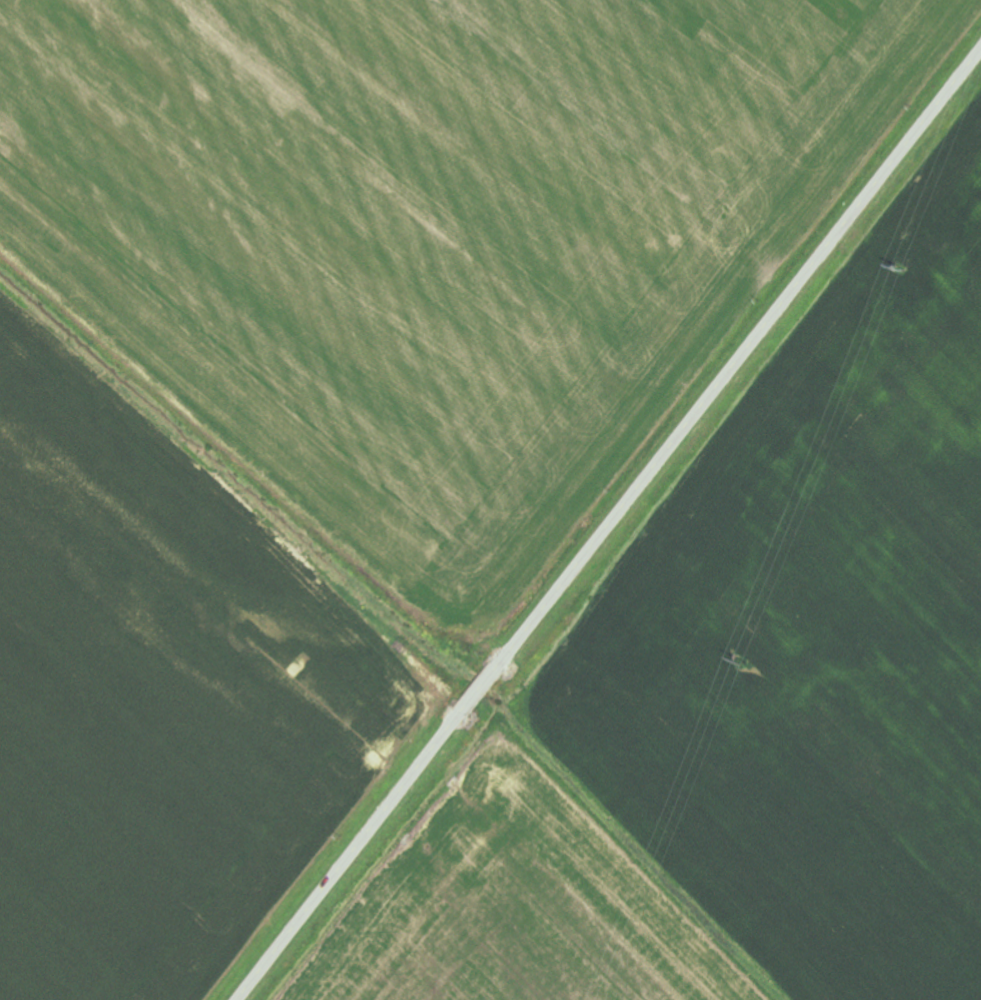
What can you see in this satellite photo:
road: (608, 524)

